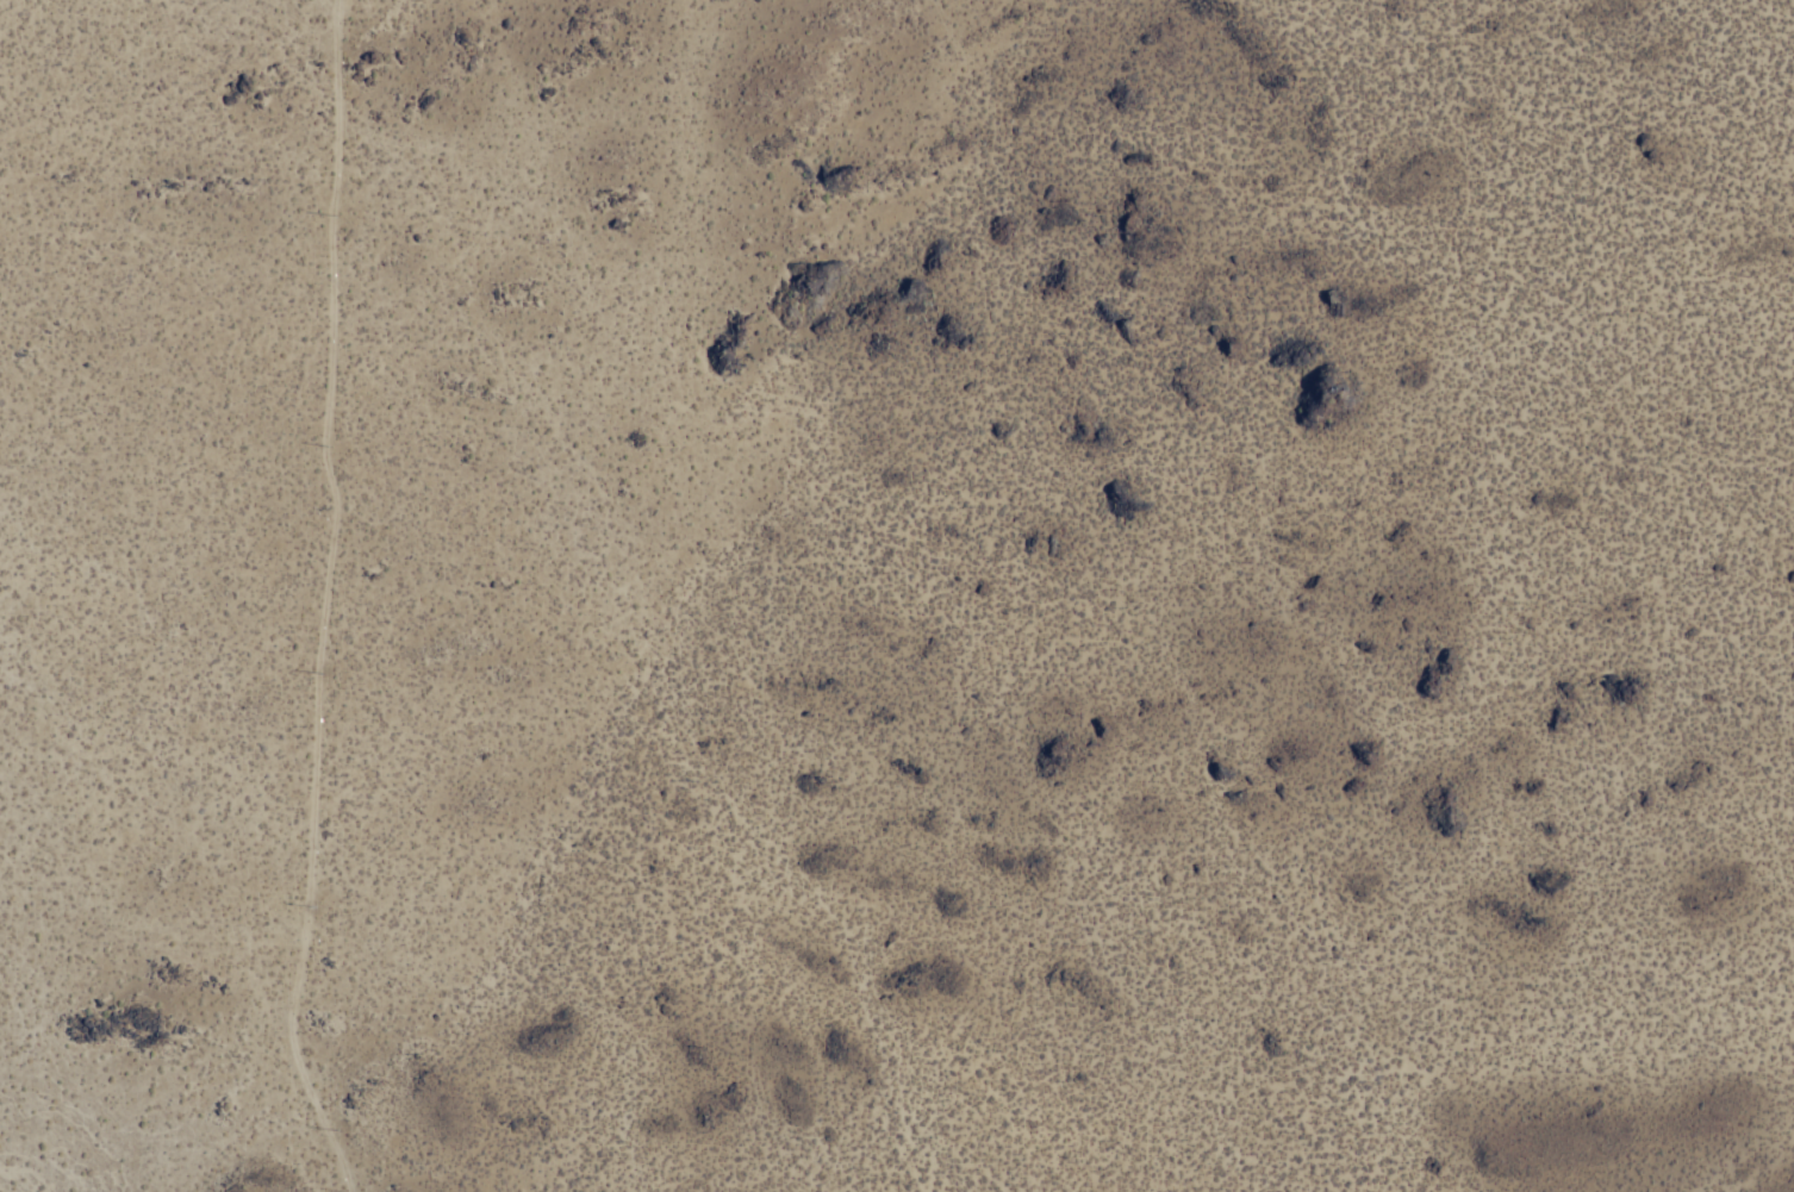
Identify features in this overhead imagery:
road: (323, 600)

